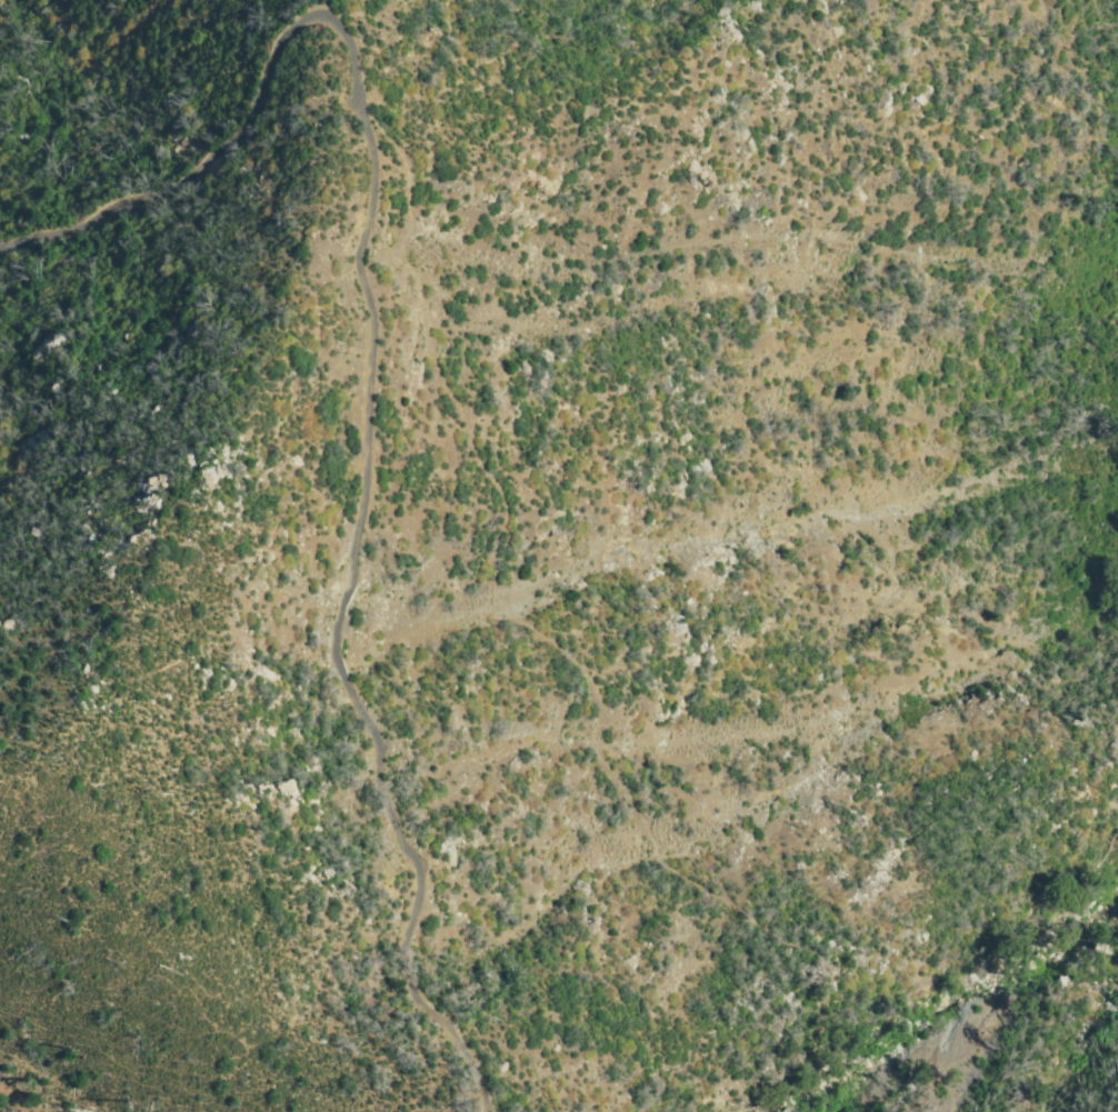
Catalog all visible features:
road: (357, 287)
road: (458, 1050)

